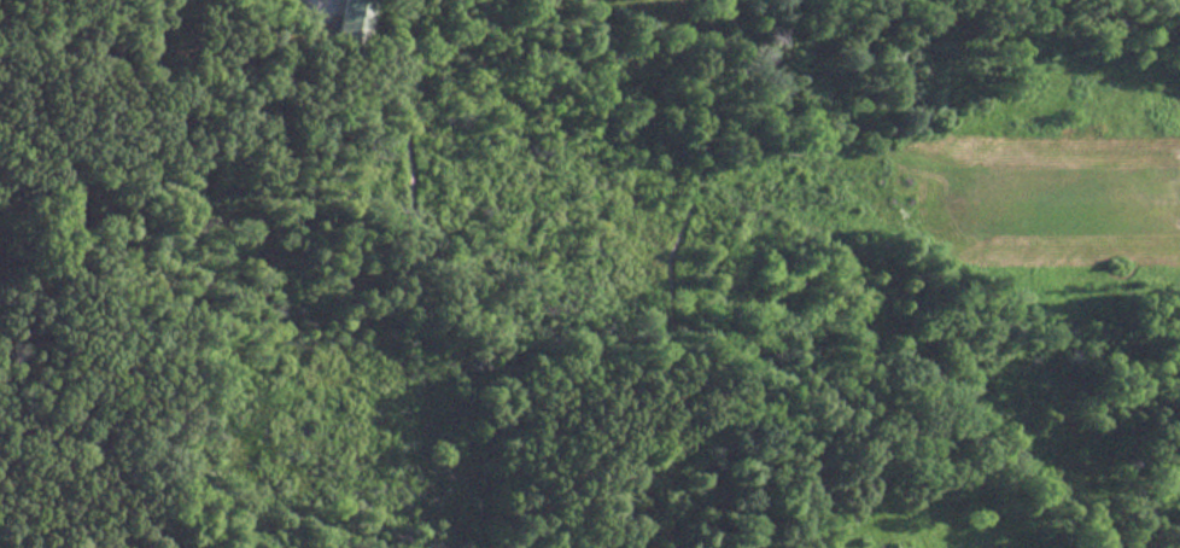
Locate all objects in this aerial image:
building: (357, 22)

